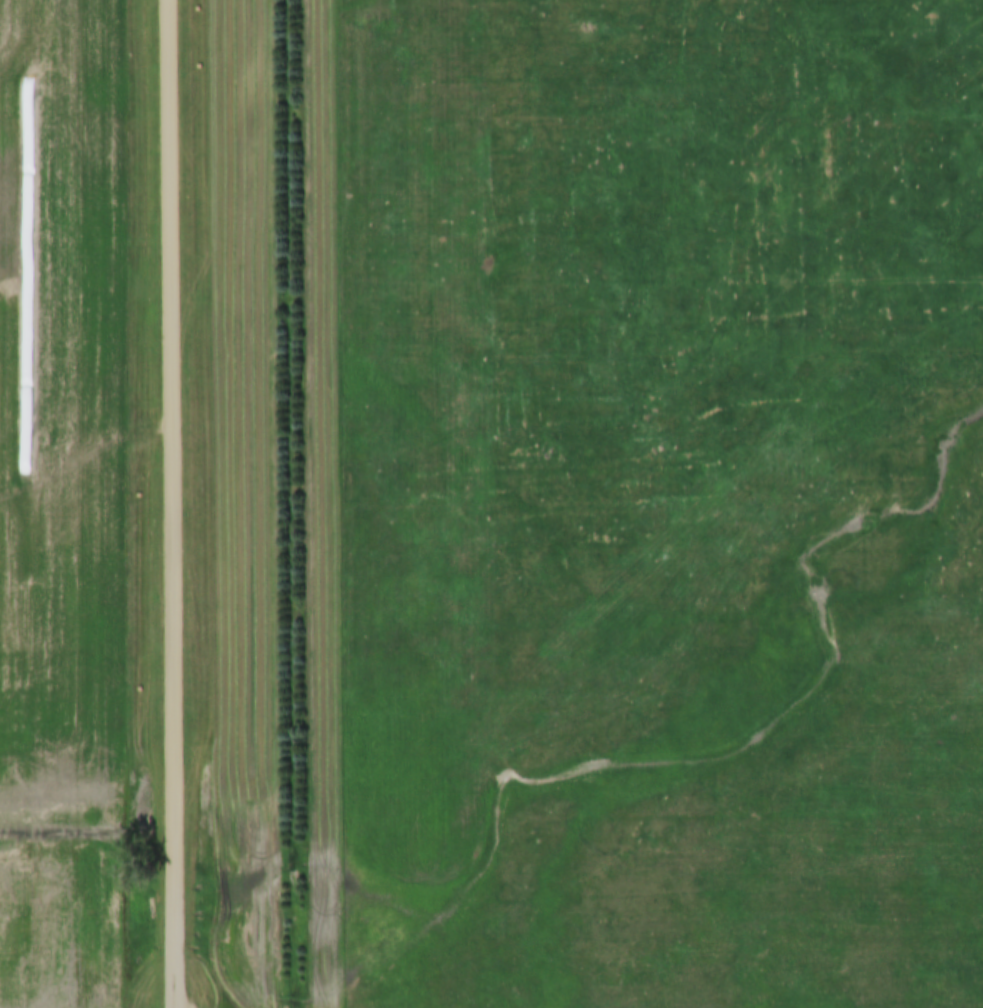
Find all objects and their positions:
road: (174, 503)

